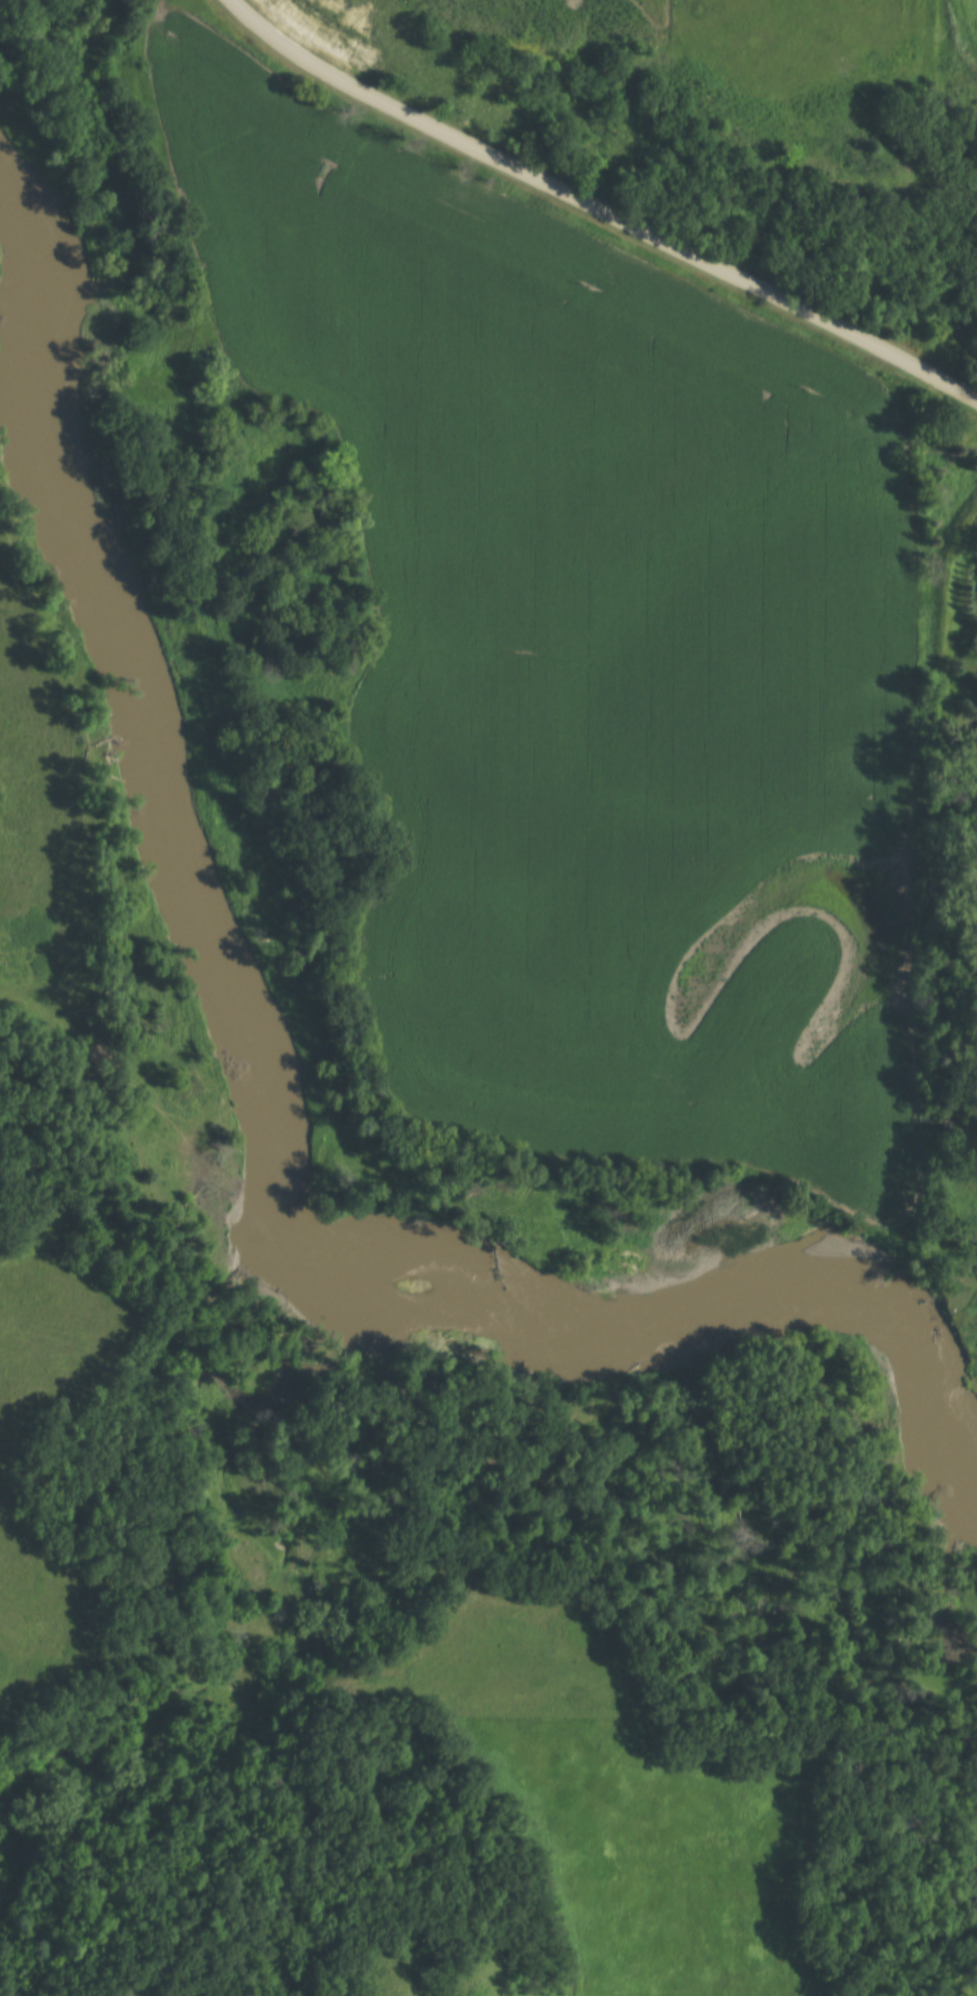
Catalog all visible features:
road: (600, 203)
river: (30, 261)
river: (155, 805)
road: (722, 1162)
river: (671, 1248)
river: (975, 1477)

